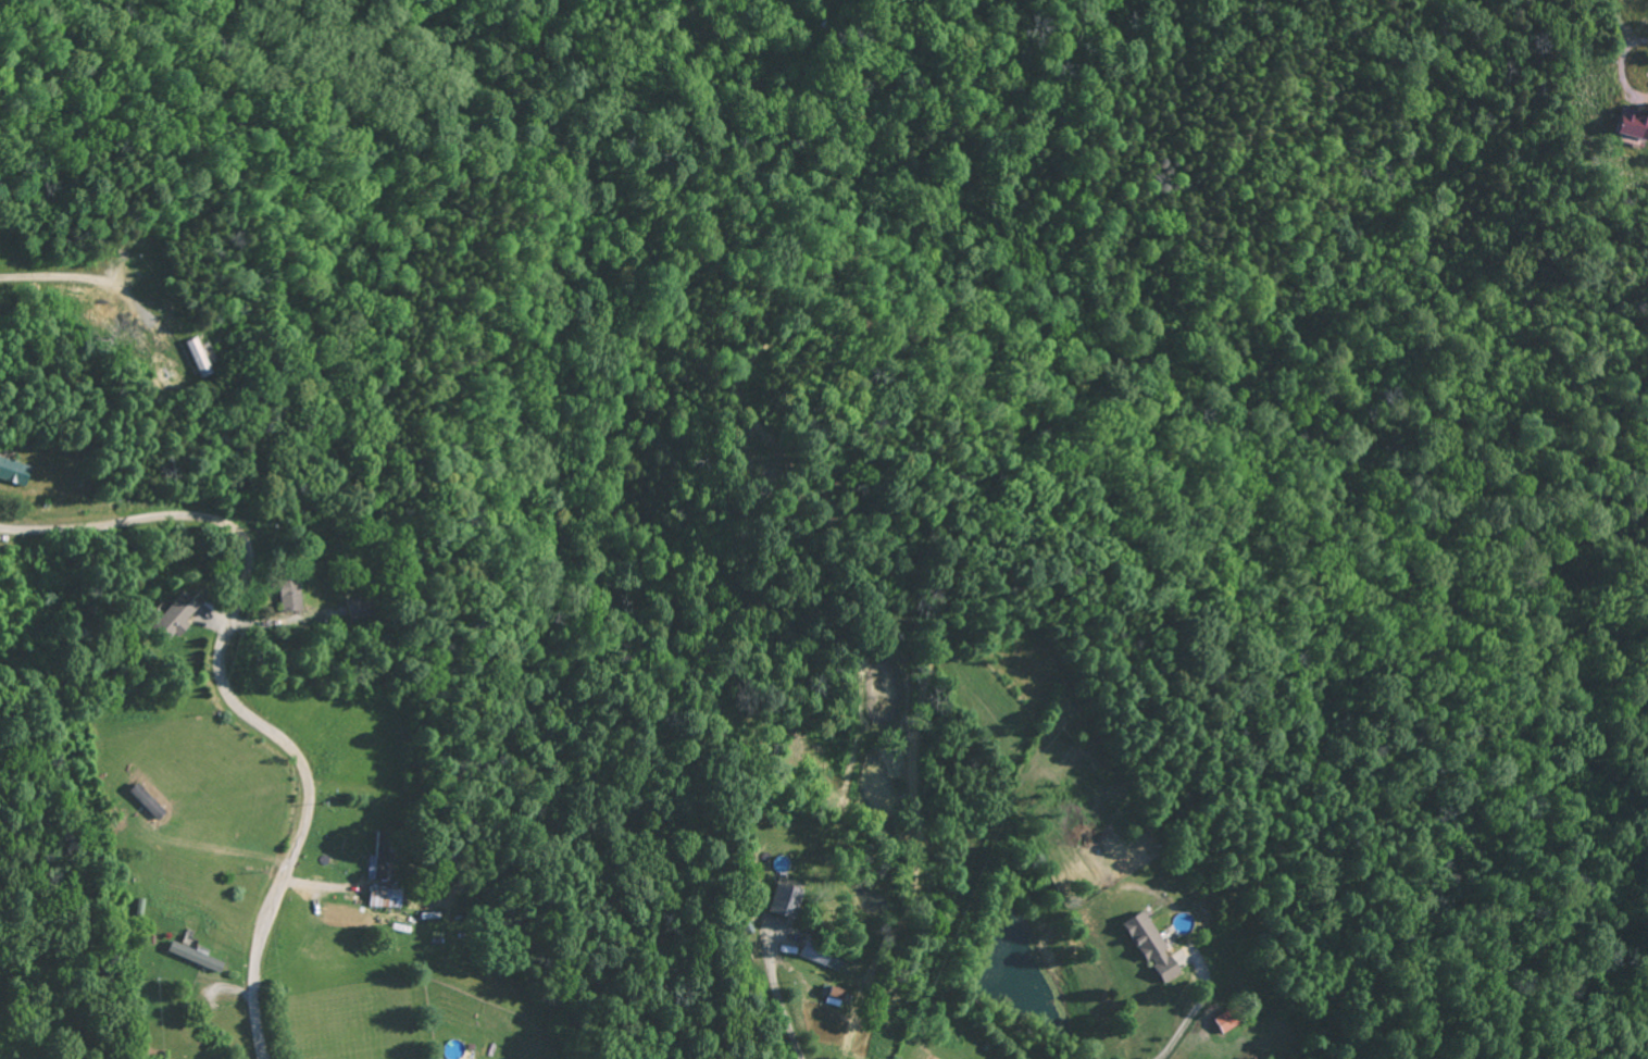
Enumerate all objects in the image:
building: (1633, 124)
road: (59, 278)
building: (195, 357)
building: (12, 472)
building: (287, 596)
building: (172, 619)
road: (238, 694)
road: (1086, 839)
road: (833, 848)
building: (383, 897)
building: (782, 901)
building: (1148, 946)
building: (819, 956)
building: (193, 957)
building: (832, 995)
building: (1224, 1019)

